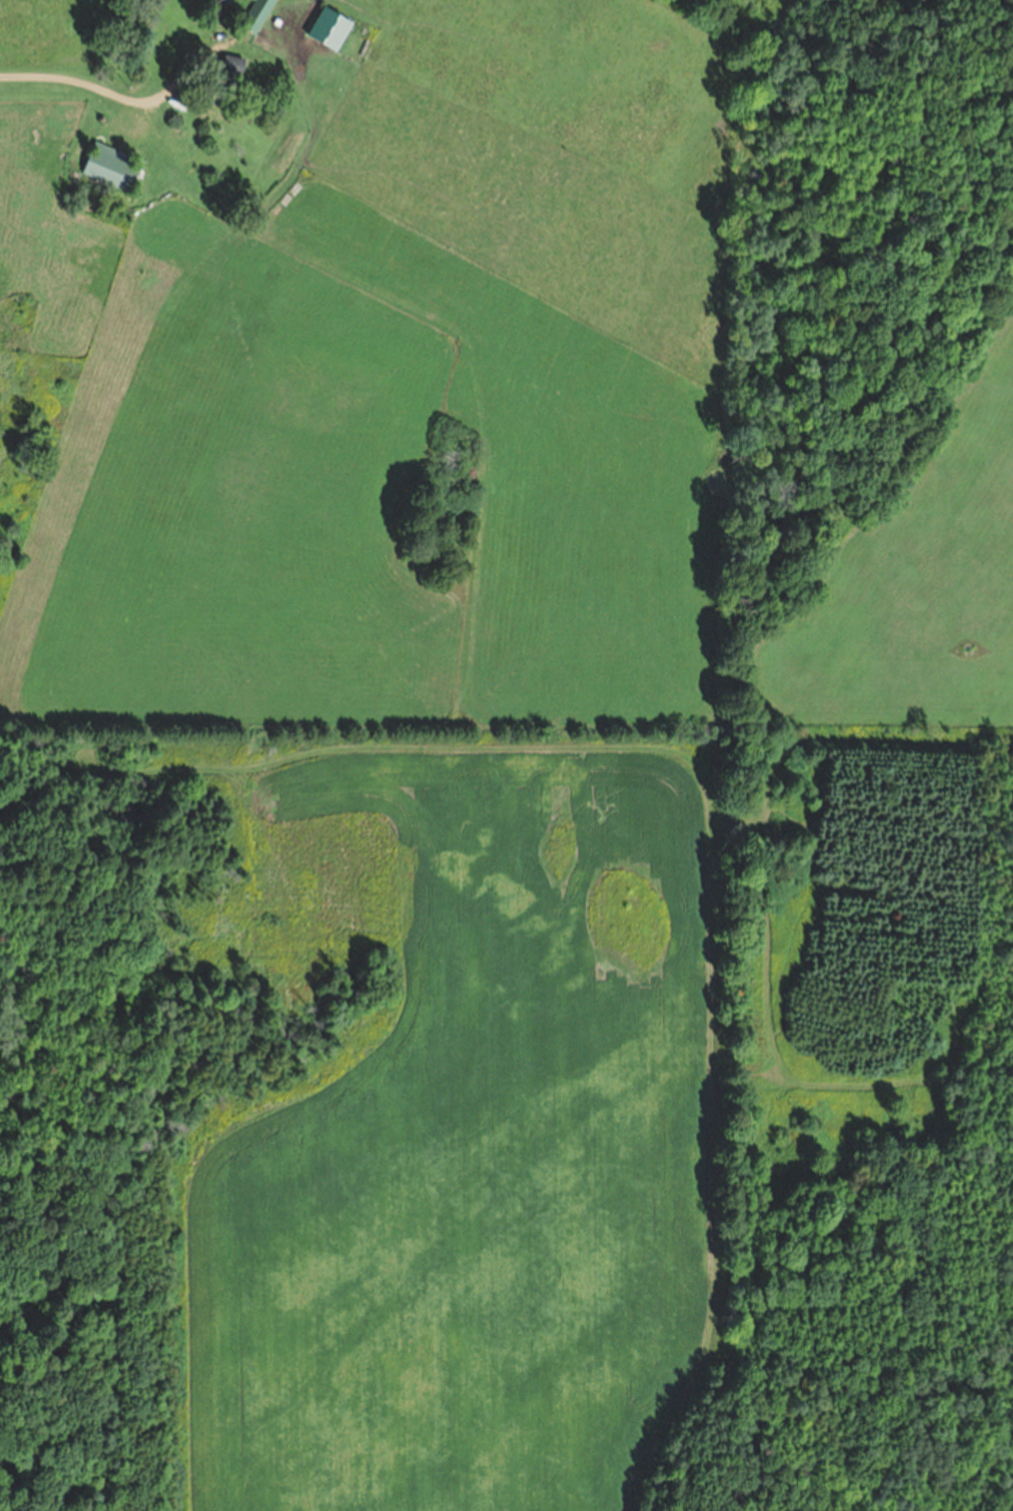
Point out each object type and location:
building: (257, 15)
building: (331, 28)
building: (235, 66)
building: (113, 167)

